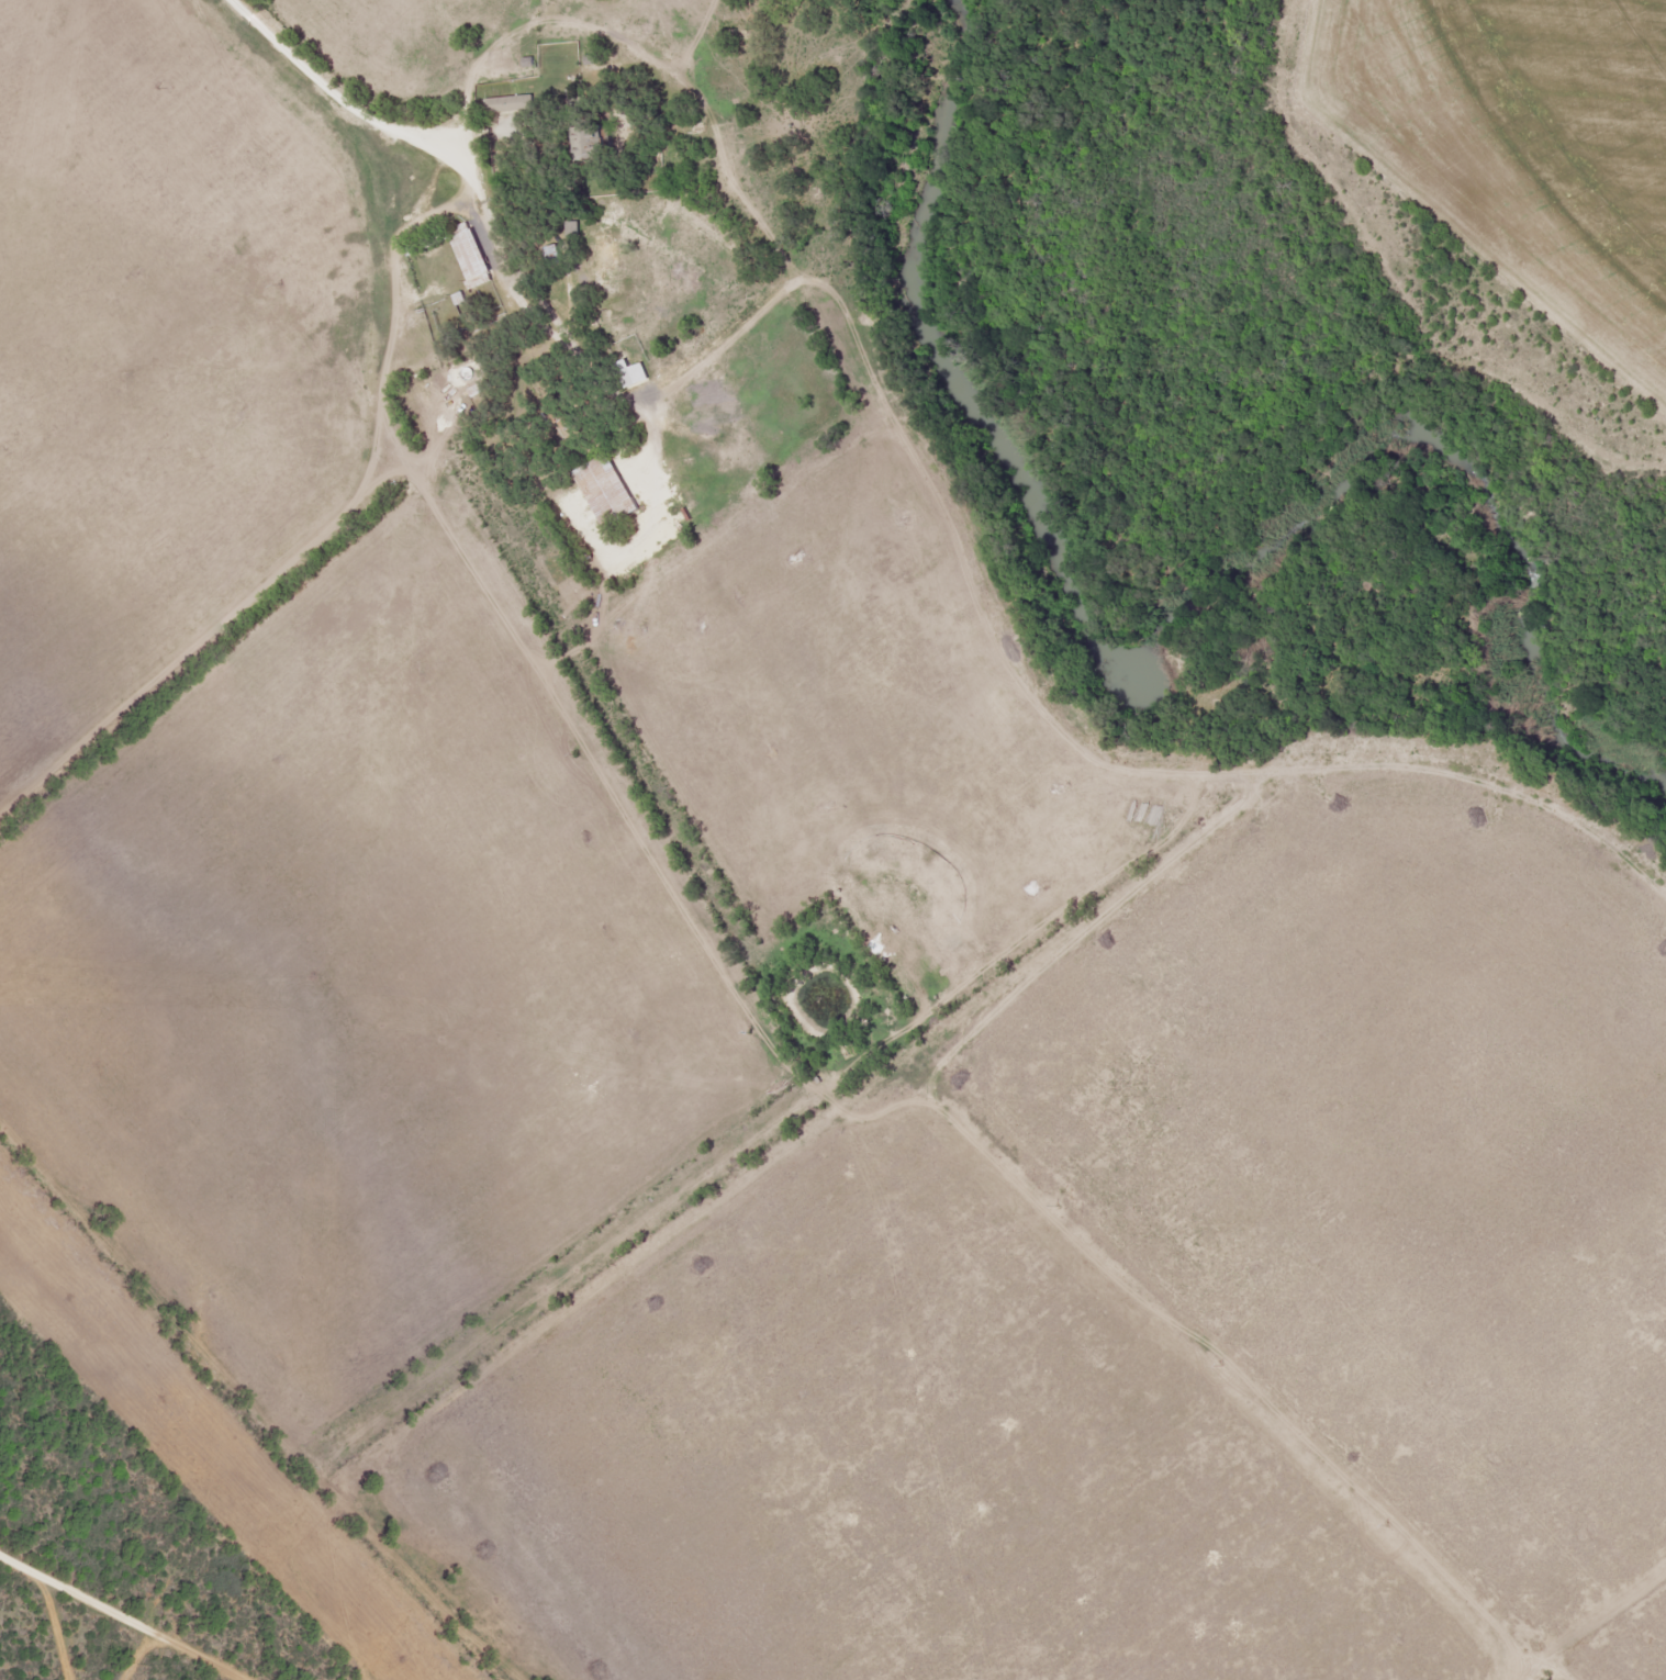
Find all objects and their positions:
road: (336, 92)
building: (508, 104)
building: (590, 142)
building: (605, 253)
building: (603, 492)
river: (1129, 692)
road: (124, 1614)
road: (52, 1624)

